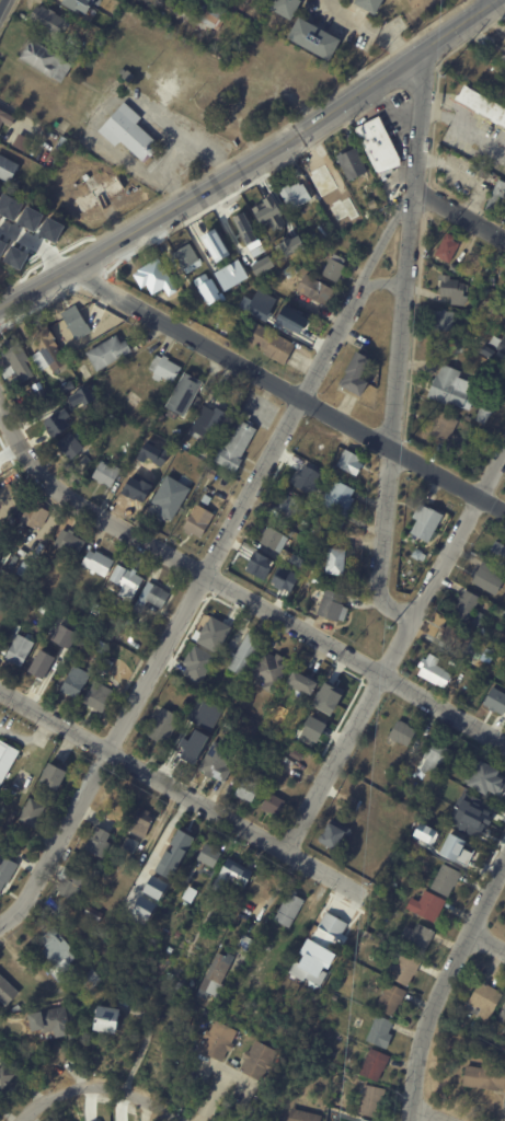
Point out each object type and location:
building: (78, 4)
building: (371, 4)
building: (289, 8)
building: (214, 14)
building: (50, 20)
road: (368, 32)
building: (315, 38)
building: (73, 41)
building: (503, 55)
building: (47, 59)
road: (105, 104)
building: (481, 106)
building: (7, 118)
road: (418, 118)
building: (130, 131)
building: (20, 142)
building: (62, 143)
building: (380, 145)
road: (172, 155)
road: (252, 162)
building: (353, 163)
building: (9, 167)
building: (474, 171)
building: (389, 180)
building: (97, 190)
building: (391, 192)
building: (296, 195)
building: (495, 197)
building: (10, 205)
building: (273, 212)
road: (459, 212)
building: (31, 217)
building: (324, 226)
building: (54, 229)
road: (382, 239)
road: (36, 244)
building: (245, 245)
building: (3, 246)
building: (302, 247)
building: (215, 249)
building: (287, 249)
building: (446, 249)
building: (18, 256)
building: (187, 256)
power tower: (423, 256)
building: (336, 268)
building: (451, 268)
building: (291, 271)
building: (230, 275)
building: (153, 277)
road: (379, 282)
building: (450, 289)
building: (318, 290)
building: (444, 320)
building: (76, 322)
building: (305, 324)
building: (65, 336)
building: (46, 342)
building: (273, 343)
building: (501, 345)
building: (454, 346)
building: (69, 349)
building: (110, 353)
building: (18, 356)
building: (76, 358)
building: (165, 370)
building: (8, 372)
building: (358, 373)
building: (451, 389)
road: (286, 391)
building: (186, 394)
building: (80, 396)
building: (45, 397)
road: (390, 411)
building: (57, 414)
building: (484, 415)
building: (214, 421)
building: (439, 426)
power tower: (406, 441)
building: (71, 446)
building: (237, 447)
building: (324, 447)
building: (167, 451)
building: (353, 463)
building: (1, 467)
building: (108, 473)
building: (214, 473)
building: (307, 475)
building: (168, 484)
building: (140, 489)
building: (341, 497)
building: (291, 506)
building: (170, 509)
building: (34, 513)
building: (199, 522)
building: (420, 522)
building: (275, 540)
building: (72, 542)
building: (497, 553)
building: (415, 554)
building: (337, 560)
building: (100, 564)
building: (262, 564)
building: (486, 578)
building: (127, 583)
building: (106, 591)
road: (237, 592)
building: (153, 597)
building: (334, 606)
building: (466, 608)
building: (99, 610)
building: (45, 611)
road: (183, 611)
building: (134, 621)
power tower: (389, 624)
building: (15, 631)
building: (213, 633)
building: (62, 635)
building: (452, 637)
building: (103, 647)
road: (393, 648)
building: (21, 650)
building: (246, 654)
building: (485, 657)
building: (43, 663)
building: (196, 663)
building: (110, 666)
building: (273, 670)
building: (432, 671)
building: (459, 671)
building: (78, 681)
building: (303, 683)
building: (336, 692)
building: (101, 696)
building: (493, 703)
building: (195, 723)
building: (165, 726)
building: (302, 730)
building: (404, 732)
building: (261, 741)
building: (274, 750)
building: (190, 754)
building: (299, 754)
building: (436, 758)
building: (7, 760)
building: (218, 762)
building: (58, 775)
building: (380, 777)
building: (487, 779)
building: (252, 788)
building: (448, 790)
road: (182, 793)
building: (375, 802)
building: (275, 804)
building: (436, 809)
building: (34, 813)
building: (470, 814)
building: (144, 823)
road: (162, 836)
building: (335, 836)
building: (424, 837)
building: (115, 839)
building: (183, 840)
building: (100, 842)
building: (131, 844)
building: (457, 850)
building: (164, 852)
building: (211, 855)
building: (156, 864)
building: (167, 864)
building: (5, 868)
building: (239, 874)
building: (448, 880)
building: (389, 881)
power tower: (367, 885)
building: (74, 886)
building: (154, 887)
building: (193, 894)
building: (214, 895)
building: (429, 905)
building: (142, 906)
building: (290, 909)
building: (385, 909)
building: (95, 913)
building: (205, 914)
building: (180, 934)
building: (331, 934)
building: (418, 938)
building: (248, 943)
road: (485, 943)
building: (361, 944)
building: (262, 946)
building: (59, 951)
building: (312, 962)
building: (404, 968)
building: (172, 976)
building: (217, 979)
building: (93, 980)
road: (444, 985)
building: (8, 991)
building: (392, 999)
building: (486, 1002)
building: (503, 1019)
building: (57, 1020)
building: (110, 1020)
building: (382, 1032)
building: (196, 1033)
building: (220, 1041)
building: (482, 1044)
building: (262, 1061)
building: (237, 1062)
building: (377, 1065)
building: (486, 1075)
building: (5, 1077)
road: (102, 1085)
building: (375, 1101)
building: (303, 1116)
road: (425, 1116)
building: (360, 1120)
building: (365, 1120)

